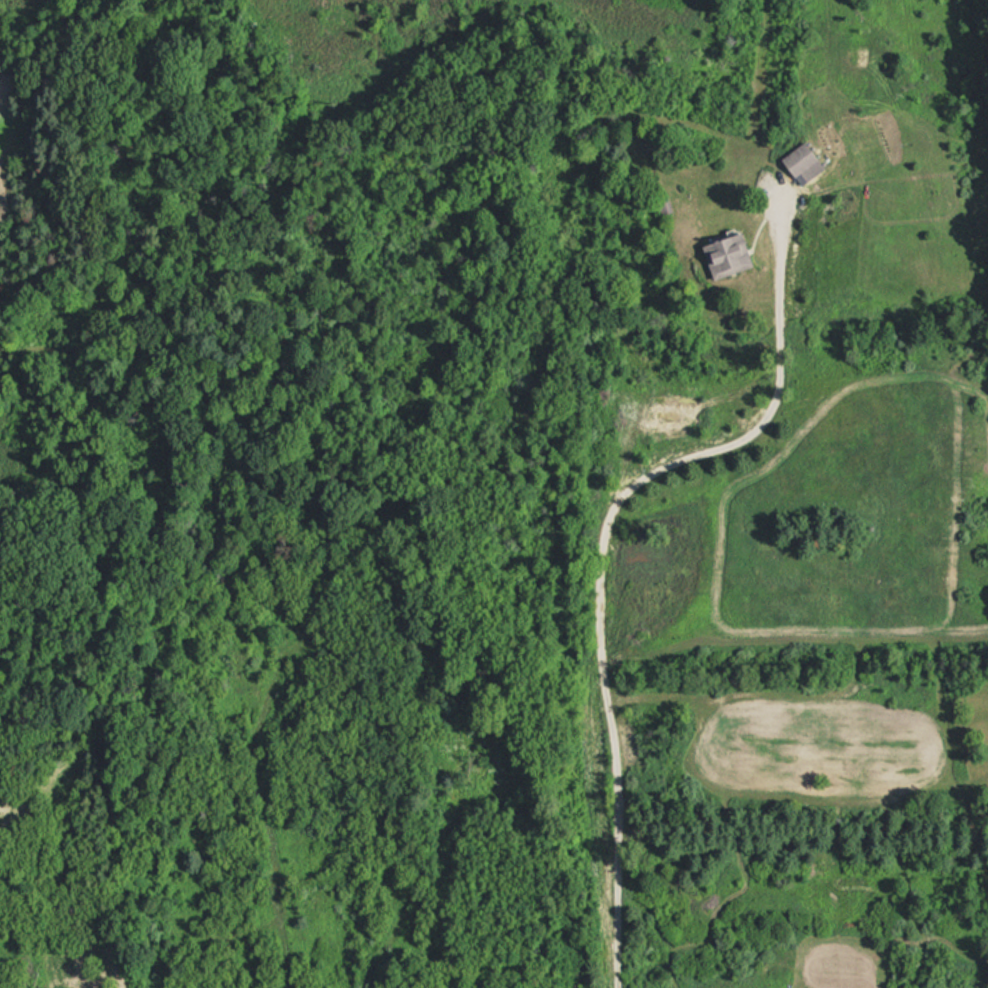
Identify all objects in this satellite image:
building: (801, 161)
building: (664, 205)
building: (726, 254)
road: (601, 542)

